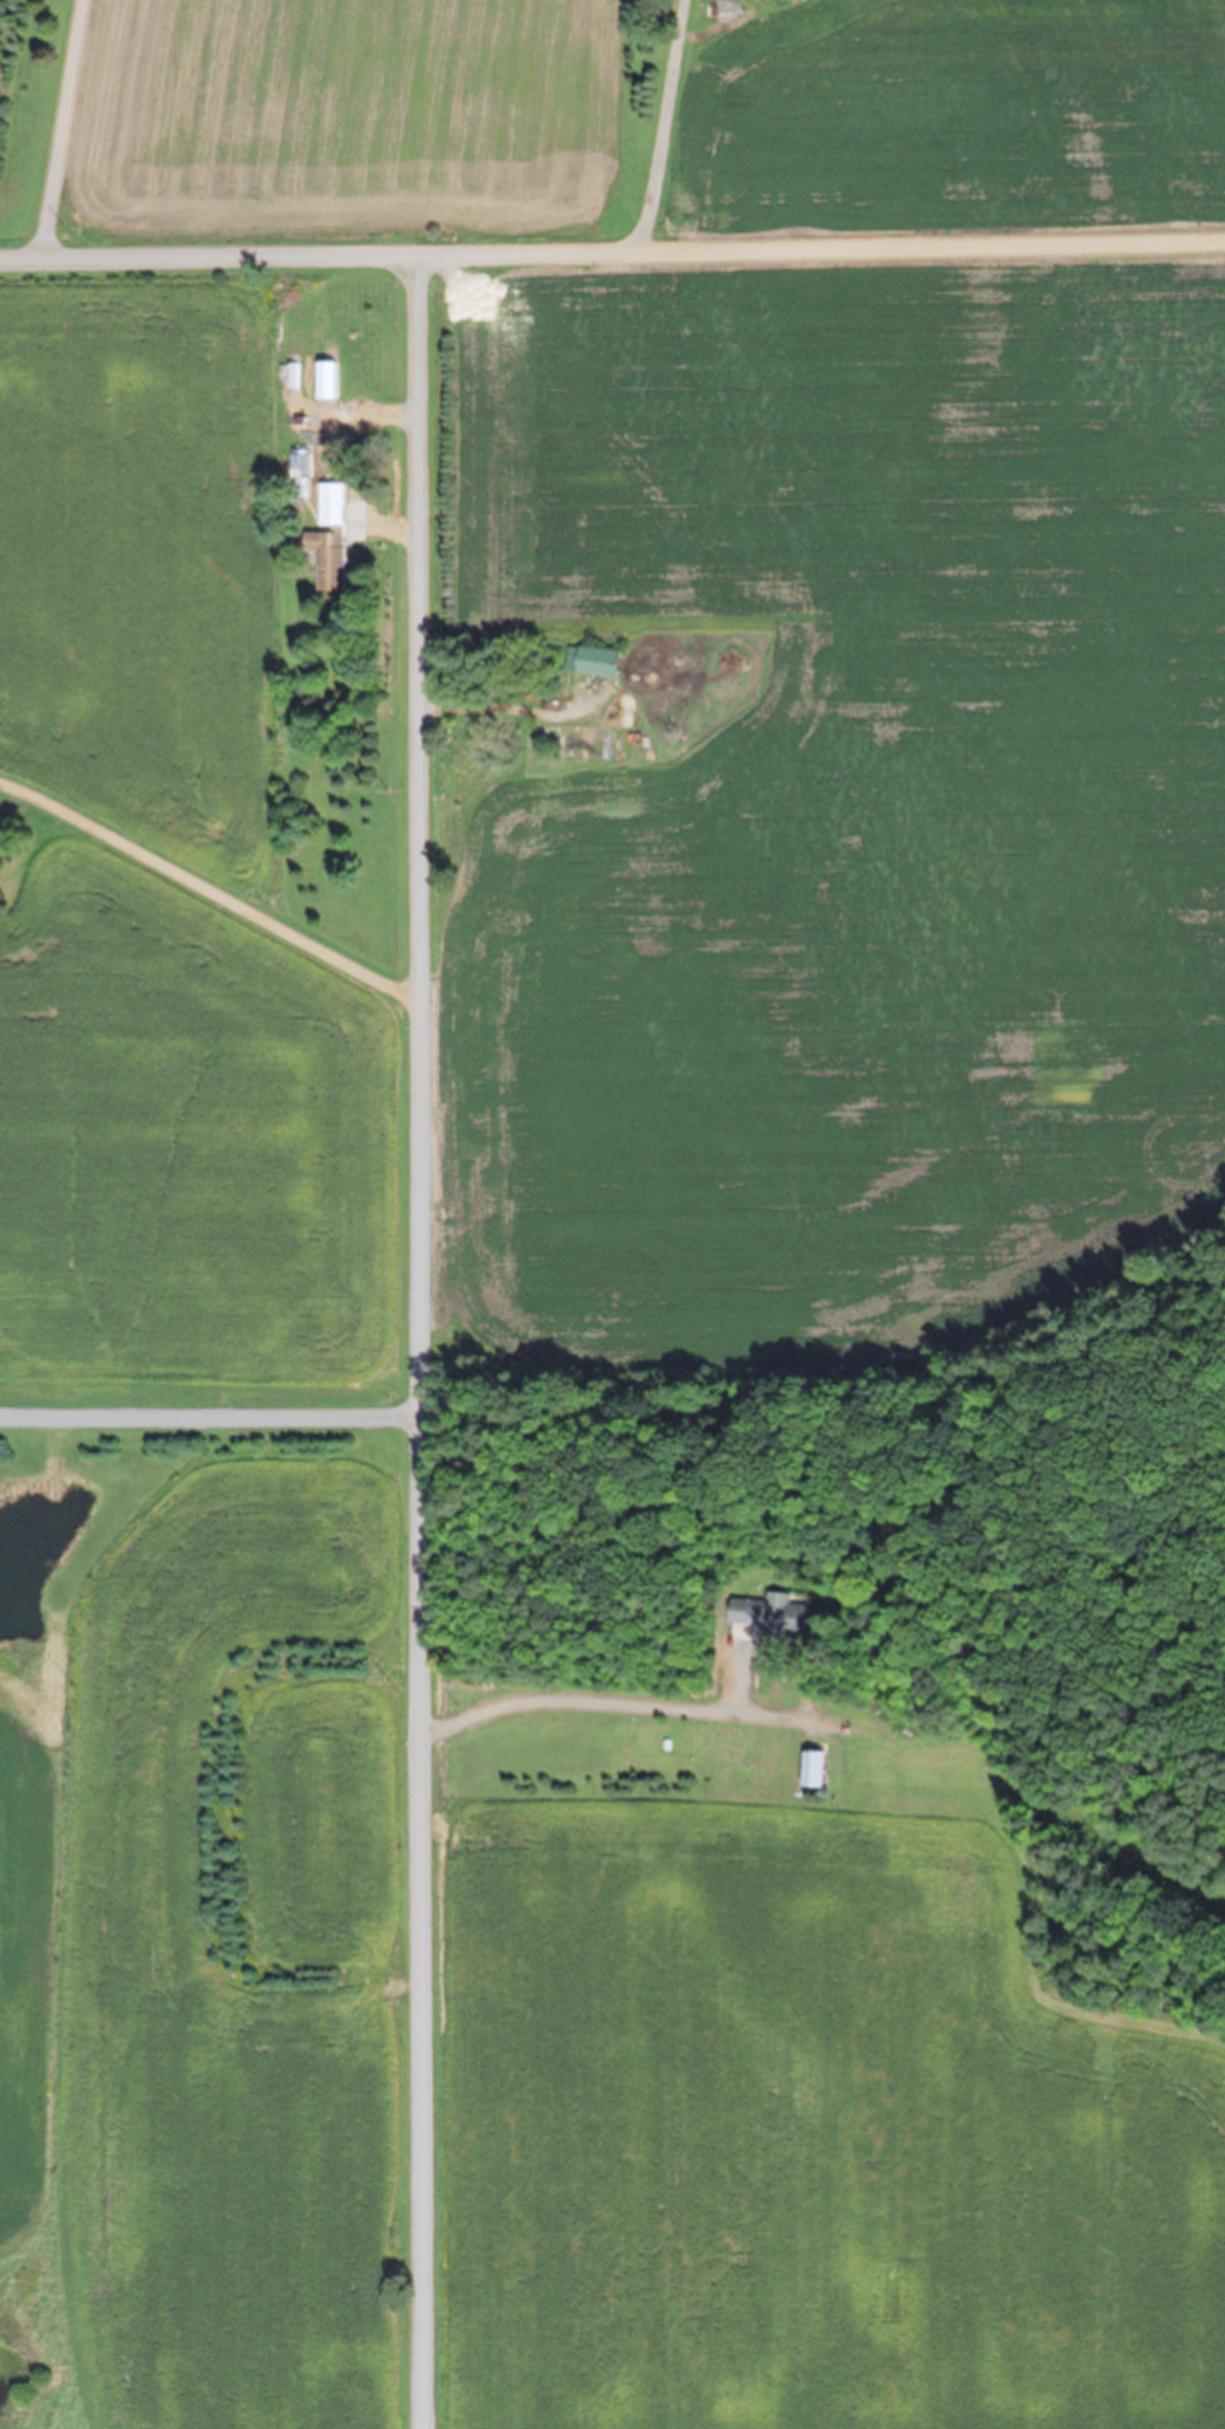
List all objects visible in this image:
road: (659, 129)
road: (825, 248)
road: (213, 258)
building: (325, 380)
building: (329, 537)
road: (219, 919)
road: (427, 1342)
building: (770, 1614)
building: (810, 1769)

